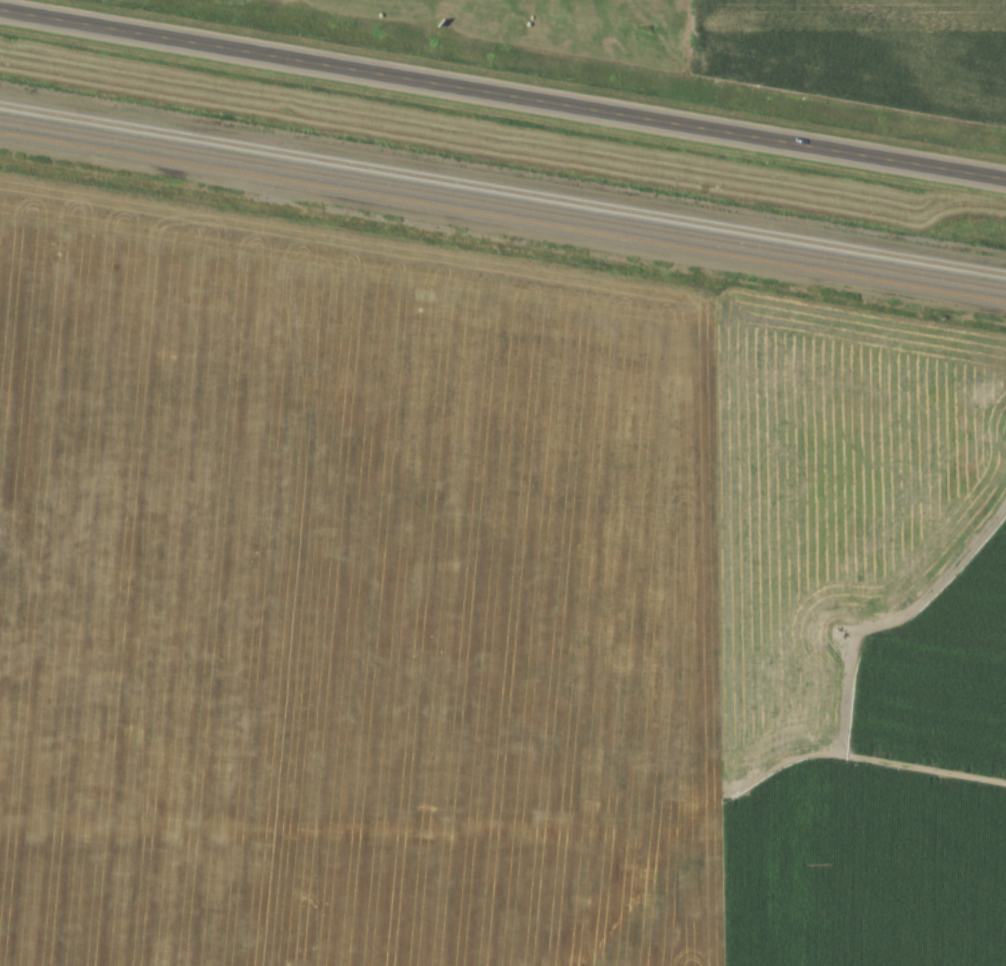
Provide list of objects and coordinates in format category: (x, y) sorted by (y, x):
crop: (864, 52)
road: (503, 94)
railway: (503, 189)
railway: (503, 203)
railway: (503, 216)

